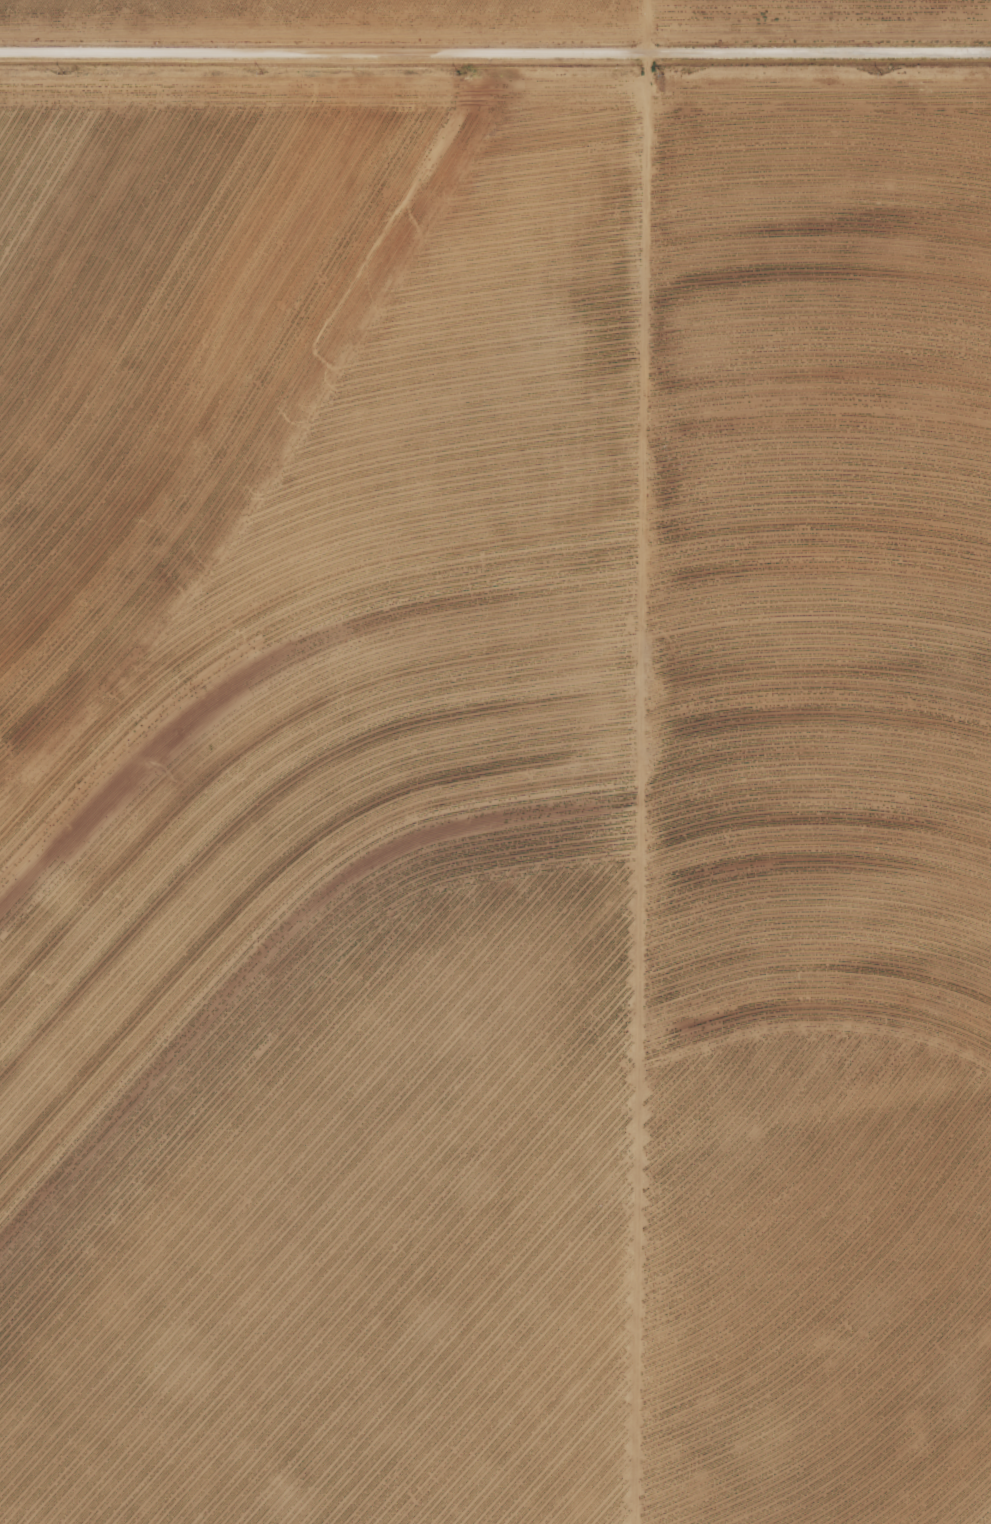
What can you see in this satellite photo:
road: (495, 66)
road: (603, 795)

